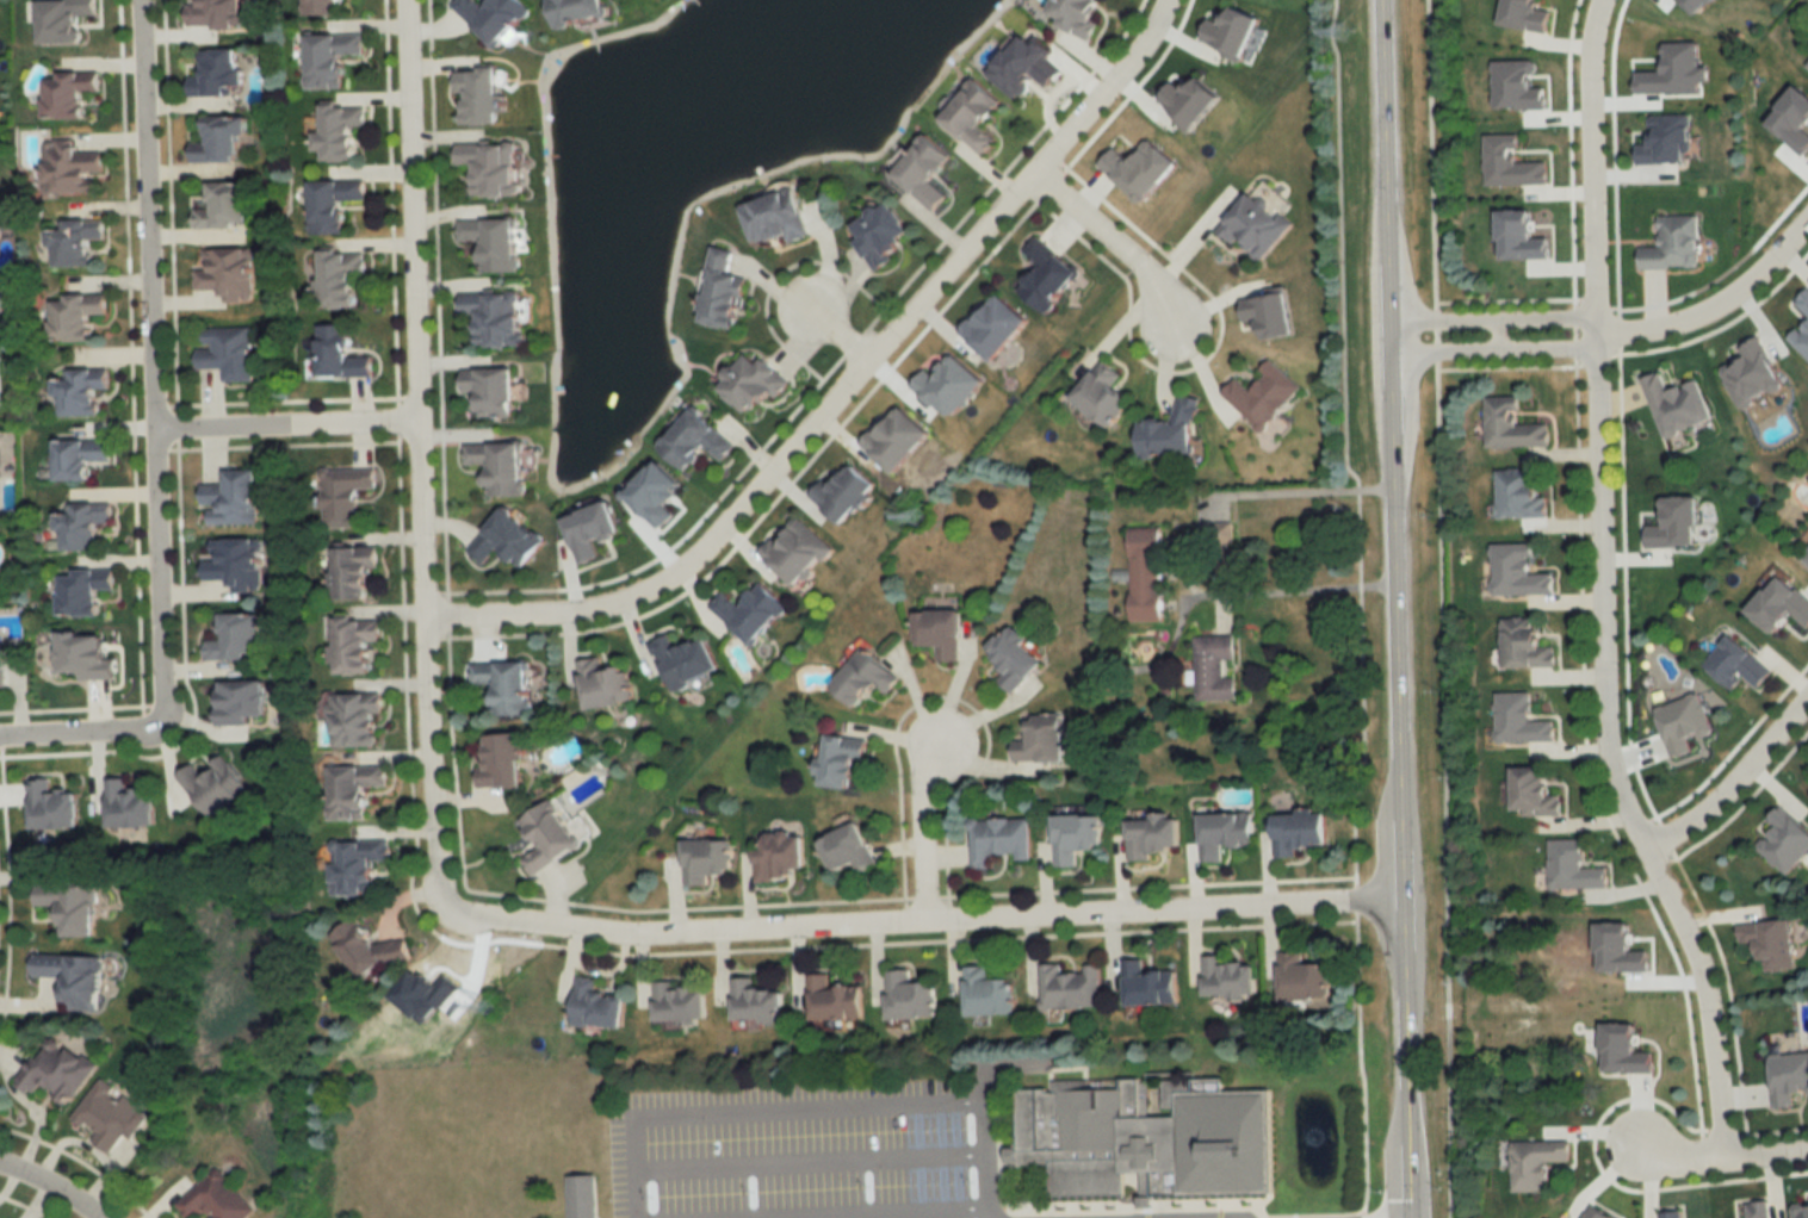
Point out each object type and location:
building: (323, 6)
building: (577, 10)
building: (216, 13)
building: (495, 15)
building: (1076, 17)
building: (64, 19)
power tower: (1343, 35)
building: (330, 58)
building: (1807, 67)
building: (218, 73)
building: (69, 93)
building: (481, 93)
building: (974, 116)
building: (340, 130)
building: (221, 139)
building: (491, 167)
road: (1592, 167)
building: (69, 170)
building: (924, 170)
building: (333, 203)
building: (225, 206)
road: (148, 216)
building: (775, 217)
building: (1257, 223)
building: (881, 234)
building: (493, 241)
building: (74, 242)
road: (1112, 242)
building: (1673, 243)
building: (225, 271)
building: (1048, 273)
building: (341, 278)
building: (722, 291)
building: (1803, 302)
road: (1716, 306)
building: (494, 316)
building: (74, 317)
road: (1496, 322)
building: (997, 324)
road: (838, 337)
building: (1802, 337)
building: (227, 352)
building: (338, 353)
road: (1494, 353)
building: (1754, 373)
building: (754, 381)
building: (491, 389)
building: (79, 390)
road: (844, 392)
building: (1103, 393)
building: (1264, 394)
building: (1677, 405)
building: (1512, 424)
road: (286, 429)
building: (1171, 431)
building: (898, 439)
building: (696, 440)
road: (419, 453)
building: (79, 456)
building: (500, 465)
building: (1522, 492)
building: (846, 493)
road: (1306, 493)
building: (346, 497)
building: (231, 499)
power tower: (923, 517)
building: (82, 524)
building: (506, 540)
building: (799, 552)
building: (1806, 558)
building: (1236, 561)
building: (234, 563)
building: (1517, 571)
building: (353, 572)
building: (1146, 576)
road: (157, 577)
building: (85, 590)
road: (1234, 595)
road: (1395, 608)
building: (753, 613)
building: (940, 632)
building: (235, 636)
building: (355, 645)
building: (1525, 645)
building: (87, 655)
building: (1016, 658)
building: (1, 661)
building: (686, 661)
building: (1739, 664)
building: (1215, 667)
building: (866, 677)
building: (506, 684)
building: (605, 684)
building: (242, 701)
building: (355, 719)
building: (1521, 720)
road: (79, 739)
building: (1045, 740)
road: (1609, 758)
building: (843, 759)
building: (503, 762)
building: (216, 785)
road: (1735, 785)
building: (353, 788)
building: (1536, 793)
building: (129, 804)
building: (52, 806)
building: (1300, 831)
building: (1226, 832)
road: (925, 834)
building: (1153, 835)
building: (550, 837)
building: (1076, 837)
building: (999, 840)
building: (1785, 840)
building: (849, 849)
building: (781, 857)
building: (706, 859)
building: (357, 864)
building: (1573, 866)
building: (72, 907)
road: (922, 927)
building: (1771, 943)
building: (369, 949)
building: (74, 977)
building: (1231, 977)
building: (1304, 978)
building: (1597, 978)
building: (1150, 984)
building: (1072, 987)
building: (990, 994)
building: (911, 998)
building: (836, 1000)
building: (682, 1002)
building: (757, 1002)
building: (599, 1005)
power tower: (491, 1007)
building: (1519, 1024)
building: (57, 1070)
building: (1789, 1077)
road: (817, 1106)
building: (109, 1116)
building: (1147, 1137)
road: (1715, 1160)
road: (809, 1161)
building: (1536, 1163)
road: (48, 1188)
building: (582, 1197)
building: (215, 1200)
building: (1759, 1210)
building: (1801, 1211)
road: (850, 1212)
building: (1672, 1214)

